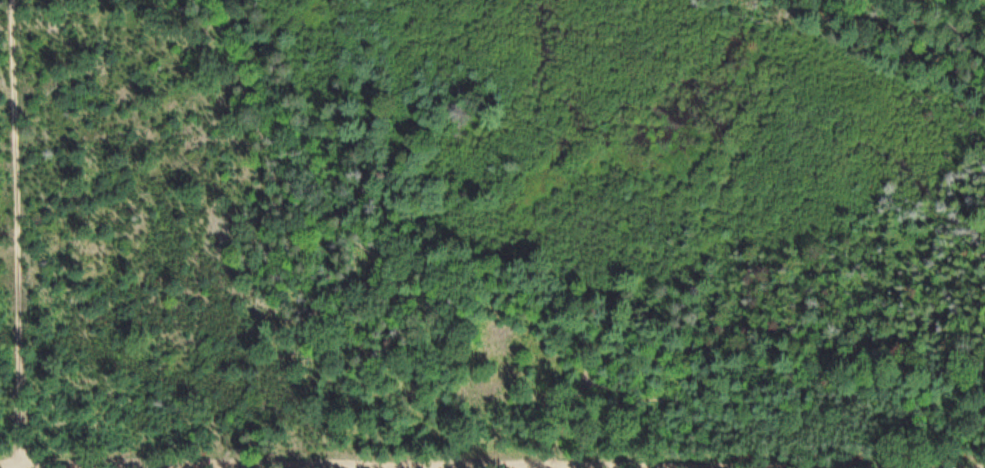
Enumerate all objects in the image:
road: (958, 17)
road: (17, 233)
road: (389, 264)
road: (75, 467)

